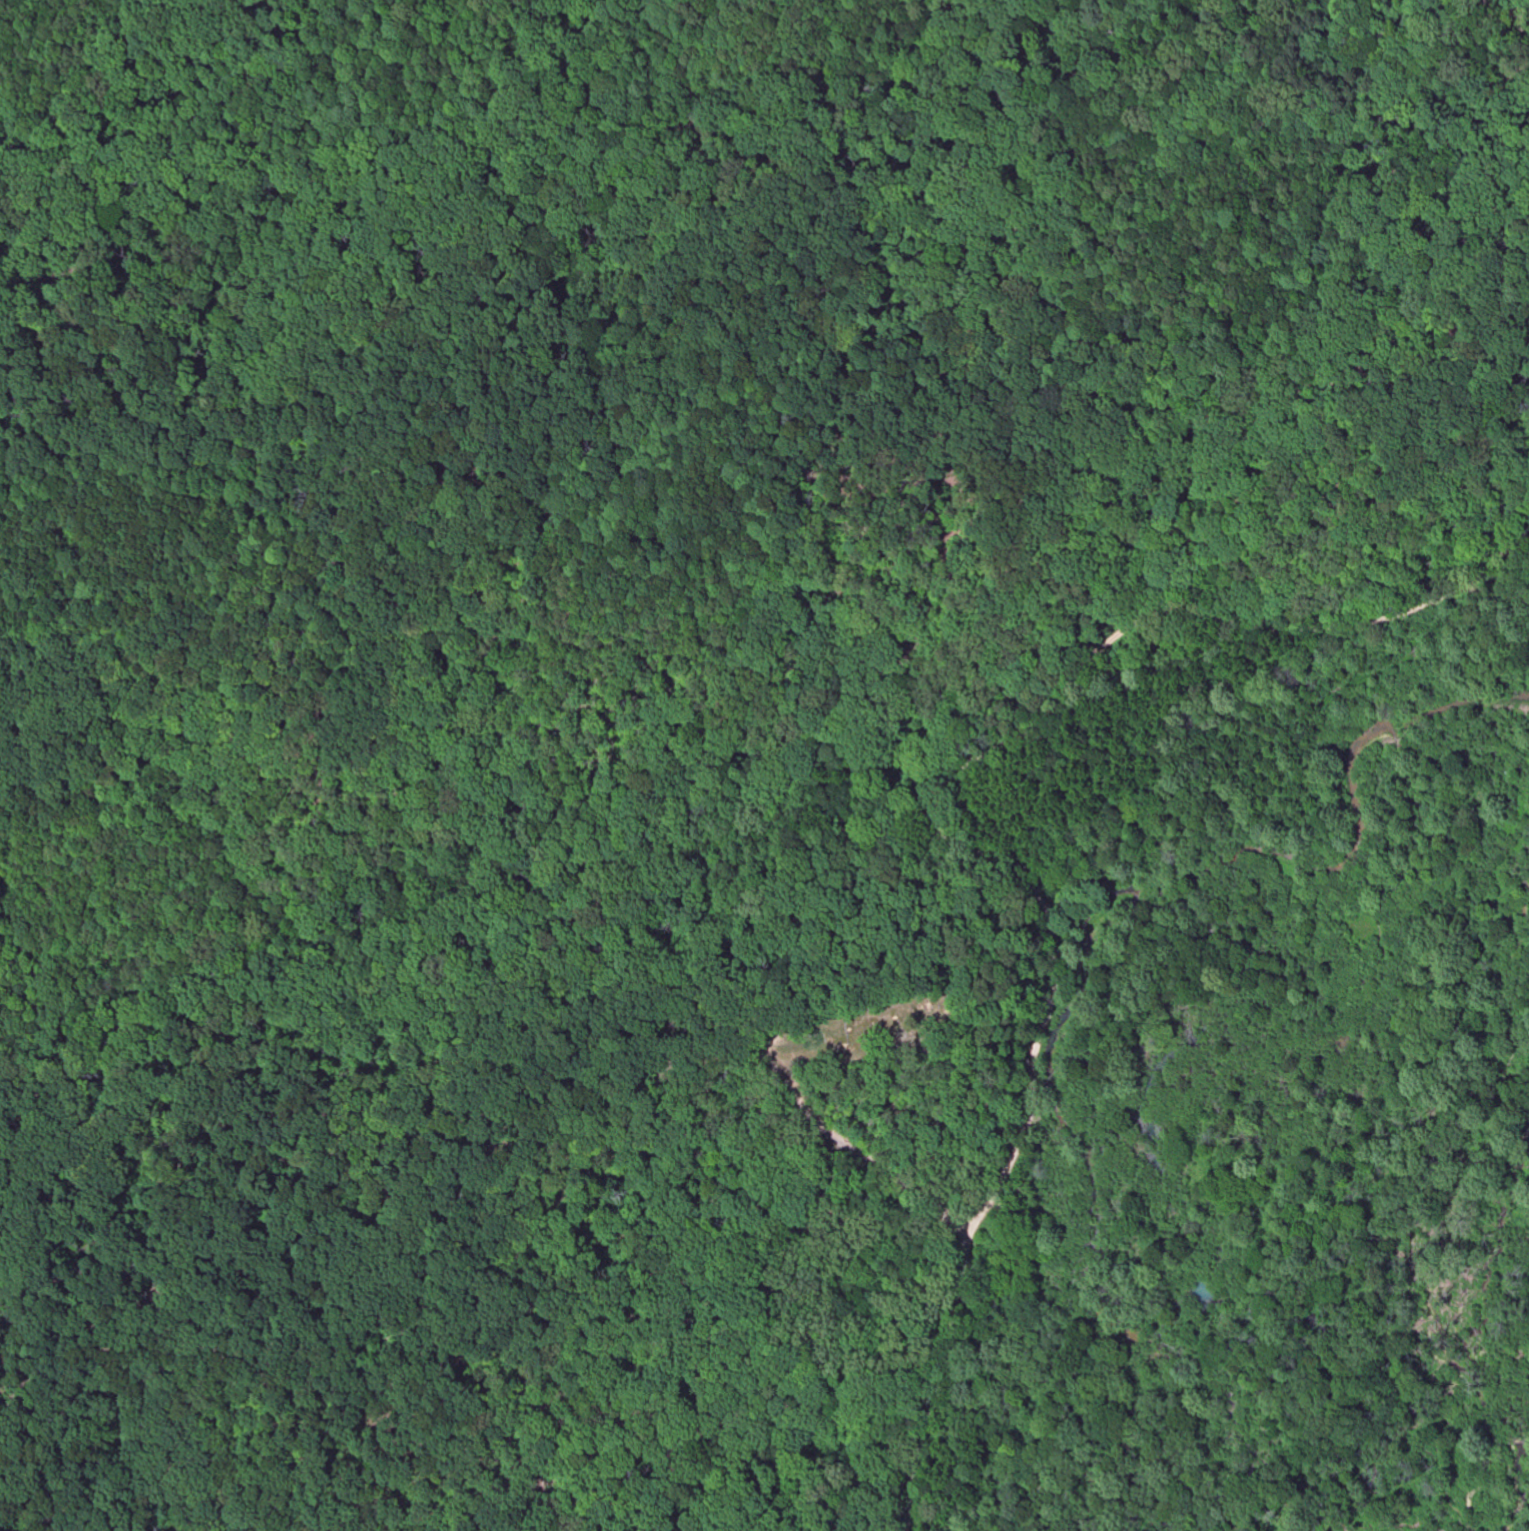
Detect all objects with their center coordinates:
river: (1360, 837)
road: (969, 844)
road: (317, 878)
park: (858, 1026)
road: (836, 1152)
road: (415, 1321)

